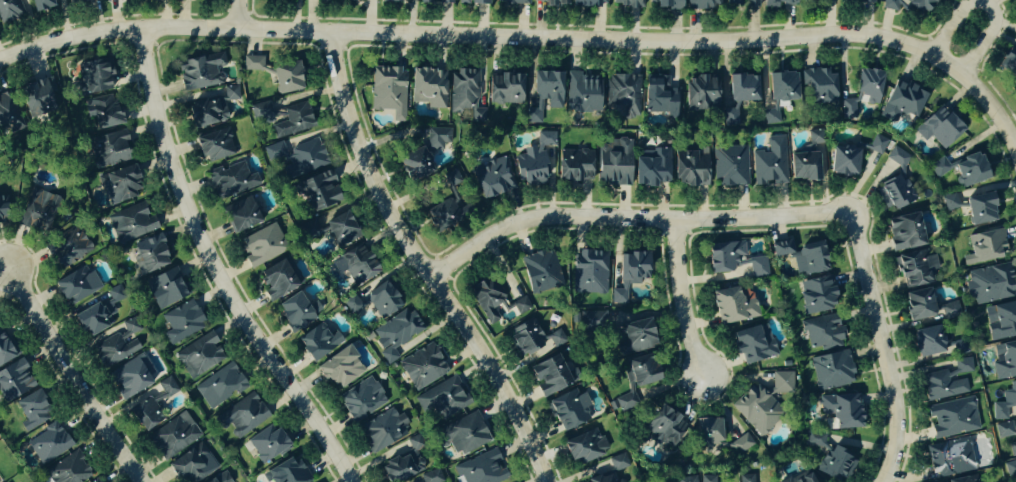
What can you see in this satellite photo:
building: (74, 0)
building: (273, 0)
building: (314, 0)
building: (395, 1)
building: (438, 1)
building: (475, 2)
building: (515, 2)
building: (858, 2)
building: (554, 3)
building: (589, 3)
building: (626, 3)
building: (742, 3)
building: (778, 3)
building: (667, 4)
building: (706, 4)
building: (42, 5)
building: (909, 5)
road: (988, 5)
building: (10, 10)
road: (232, 12)
road: (481, 36)
building: (1009, 61)
building: (253, 63)
building: (200, 72)
building: (93, 77)
building: (287, 78)
building: (782, 87)
building: (821, 87)
building: (429, 88)
building: (548, 88)
building: (505, 90)
building: (389, 92)
building: (701, 93)
building: (863, 93)
building: (466, 94)
building: (583, 94)
building: (624, 95)
building: (739, 95)
building: (659, 97)
building: (38, 98)
building: (902, 103)
building: (212, 108)
road: (992, 109)
building: (103, 113)
building: (263, 113)
building: (536, 113)
building: (7, 116)
building: (295, 121)
building: (941, 128)
building: (437, 139)
building: (214, 145)
building: (877, 145)
building: (108, 150)
building: (898, 157)
building: (296, 158)
building: (806, 160)
building: (535, 162)
building: (844, 162)
building: (615, 163)
building: (771, 164)
building: (414, 165)
building: (575, 166)
building: (731, 166)
building: (652, 169)
building: (690, 170)
building: (963, 170)
building: (492, 178)
building: (451, 179)
building: (231, 181)
building: (120, 184)
building: (319, 191)
building: (896, 192)
building: (953, 202)
building: (981, 210)
building: (39, 212)
building: (447, 214)
building: (241, 215)
building: (0, 216)
road: (629, 221)
building: (131, 223)
building: (341, 229)
building: (906, 232)
building: (261, 246)
building: (986, 247)
building: (67, 248)
building: (150, 255)
building: (802, 256)
building: (733, 260)
road: (418, 262)
building: (354, 267)
road: (210, 269)
building: (914, 270)
building: (590, 273)
building: (542, 274)
building: (630, 274)
building: (276, 281)
building: (990, 284)
building: (76, 285)
building: (165, 288)
building: (115, 295)
building: (816, 296)
road: (678, 299)
building: (489, 301)
building: (919, 305)
building: (522, 306)
building: (734, 307)
building: (951, 311)
building: (294, 313)
building: (92, 321)
building: (593, 321)
building: (1001, 321)
building: (182, 323)
building: (396, 333)
building: (823, 333)
building: (637, 337)
building: (525, 339)
building: (928, 342)
building: (318, 343)
building: (754, 344)
building: (117, 346)
road: (879, 347)
building: (5, 350)
building: (199, 356)
building: (1005, 361)
building: (423, 367)
building: (340, 368)
building: (832, 371)
road: (72, 376)
building: (549, 376)
building: (130, 378)
building: (637, 379)
building: (15, 381)
building: (948, 382)
building: (783, 383)
building: (221, 386)
building: (362, 400)
building: (443, 400)
building: (1006, 403)
building: (569, 410)
building: (756, 410)
building: (843, 411)
building: (32, 412)
building: (145, 415)
building: (243, 417)
building: (954, 418)
building: (664, 428)
building: (384, 430)
building: (708, 432)
building: (462, 435)
building: (174, 437)
building: (1007, 437)
building: (48, 444)
building: (268, 444)
building: (742, 444)
building: (584, 447)
building: (828, 458)
building: (951, 458)
building: (405, 464)
building: (190, 465)
building: (481, 469)
building: (1011, 469)
building: (69, 470)
building: (616, 471)
building: (288, 473)
building: (432, 476)
building: (801, 477)
building: (221, 478)
building: (746, 478)
building: (708, 479)
building: (965, 480)
building: (99, 481)

